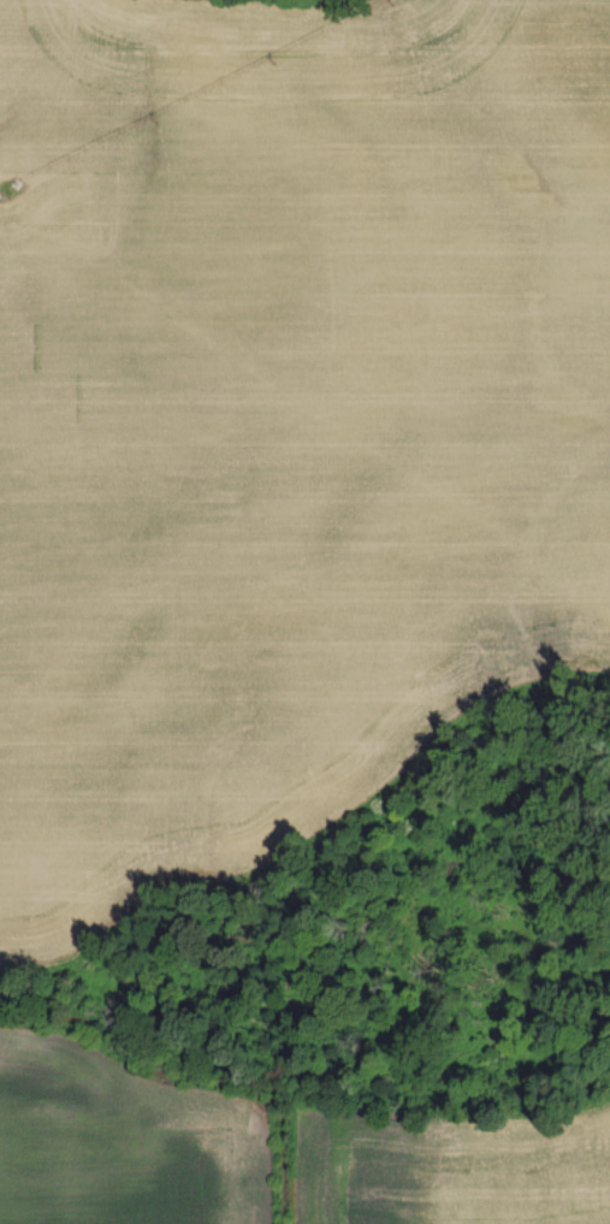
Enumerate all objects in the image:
crop: (284, 420)
crop: (125, 1142)
crop: (452, 1167)

